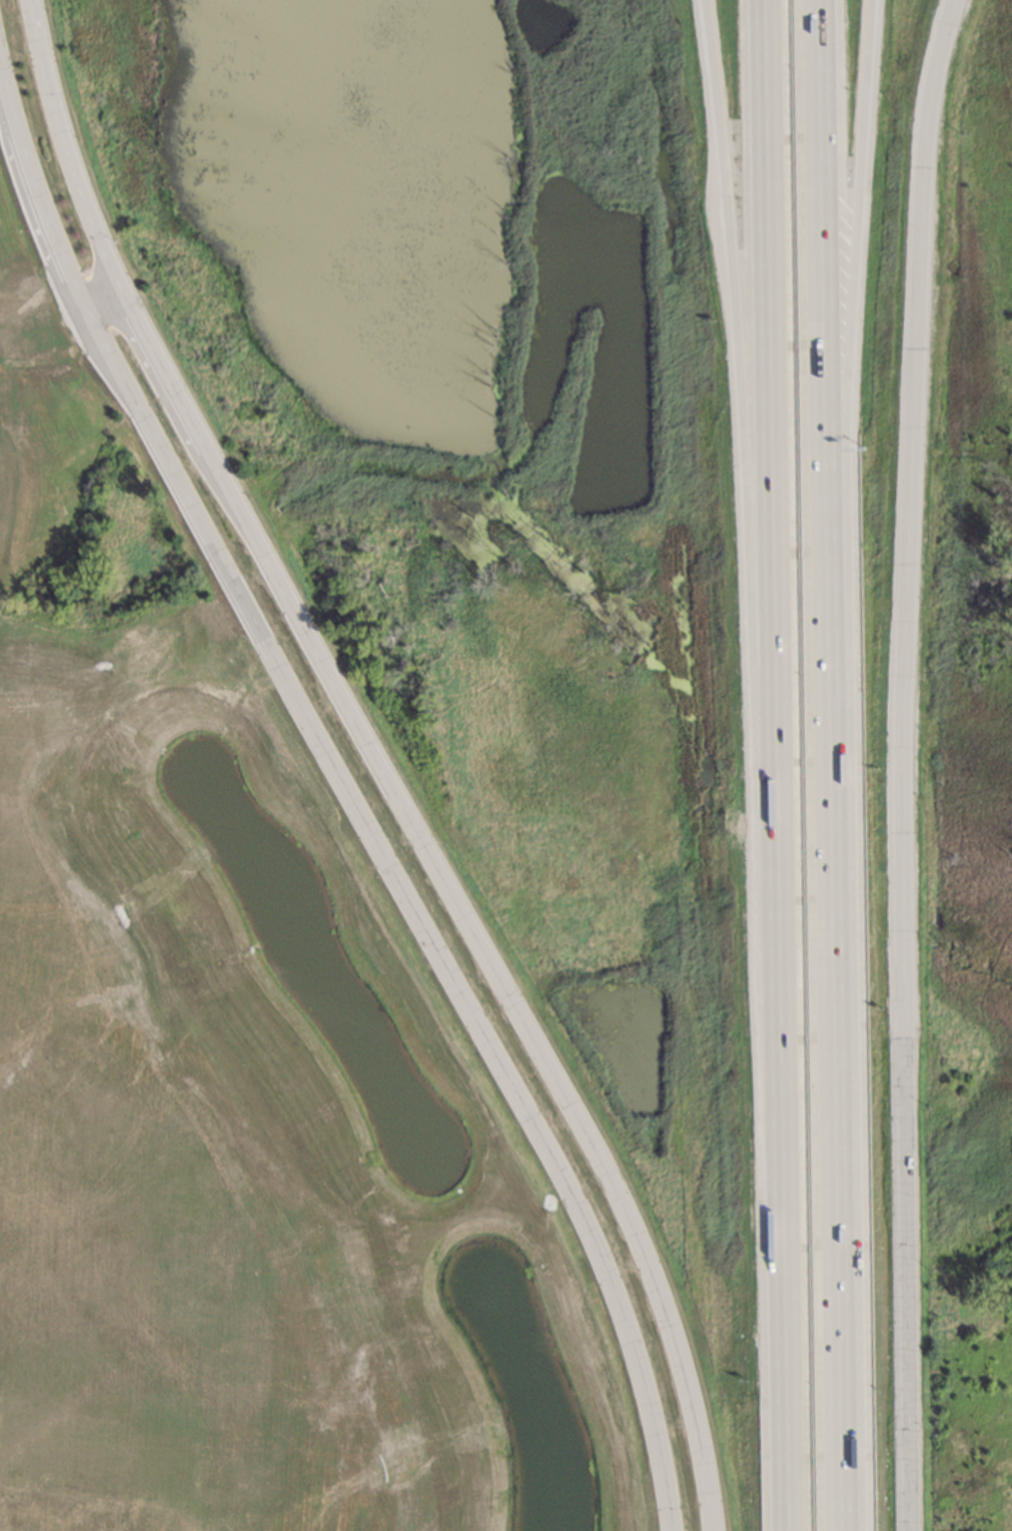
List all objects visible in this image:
road: (67, 146)
road: (34, 184)
road: (94, 300)
road: (822, 370)
road: (850, 370)
road: (743, 374)
road: (185, 411)
road: (253, 601)
road: (903, 763)
road: (773, 765)
road: (414, 903)
road: (520, 1018)
road: (840, 1136)

